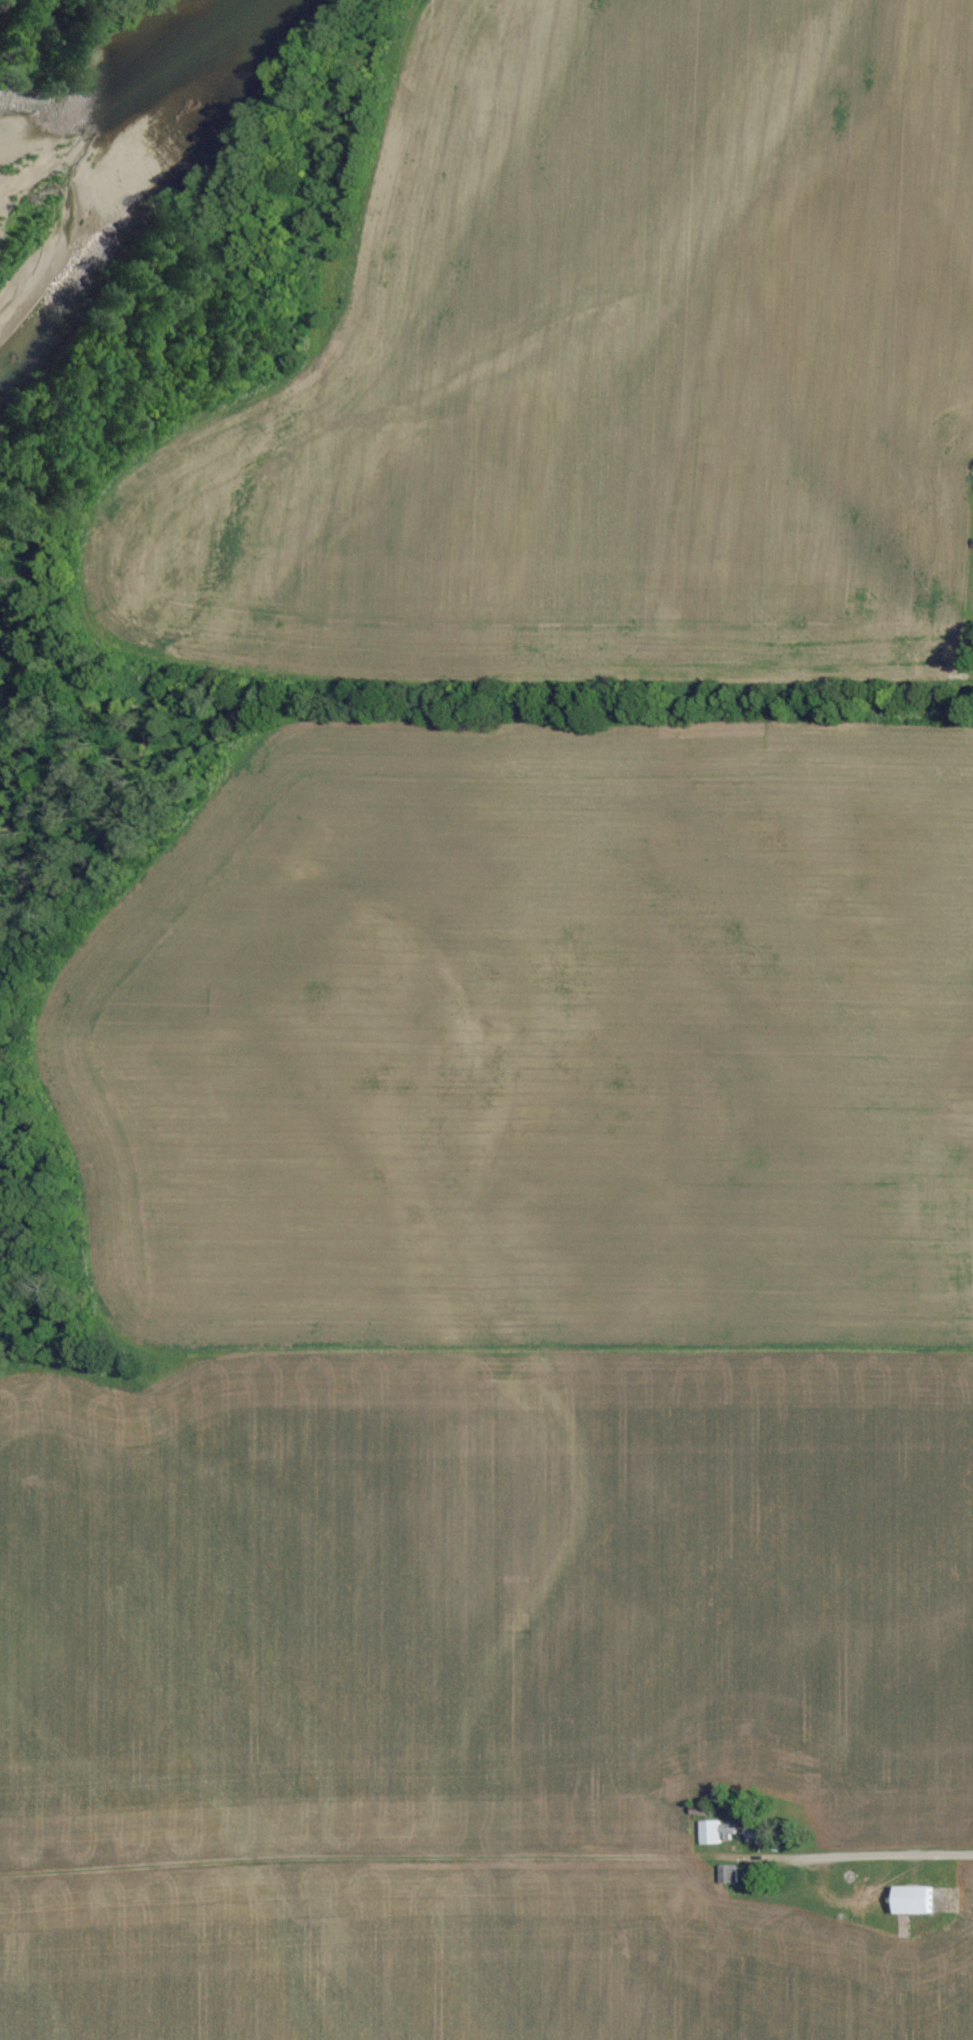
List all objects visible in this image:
railway: (3, 5)
river: (125, 123)
building: (744, 1830)
building: (708, 1832)
road: (886, 1868)
building: (726, 1873)
building: (912, 1899)

